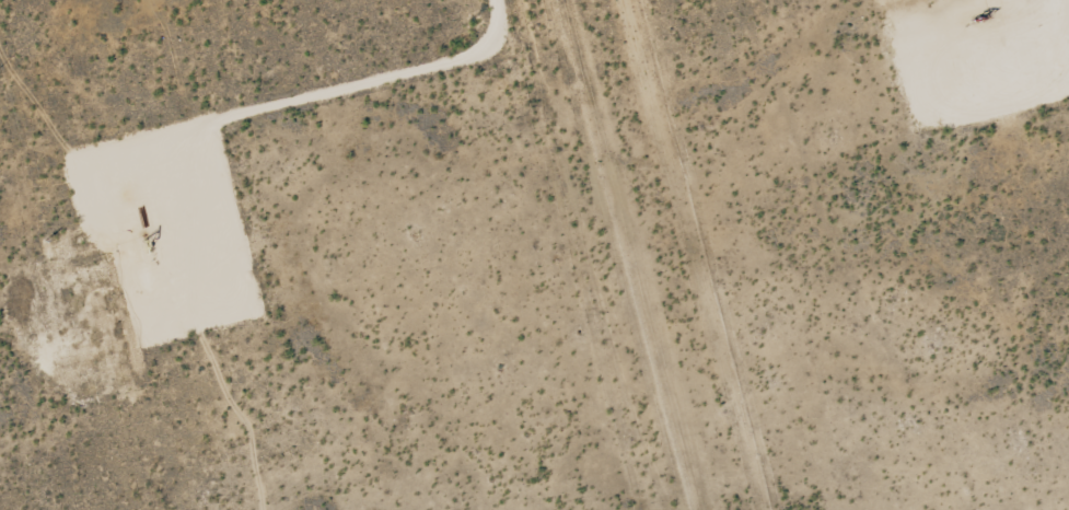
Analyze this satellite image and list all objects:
road: (302, 93)

